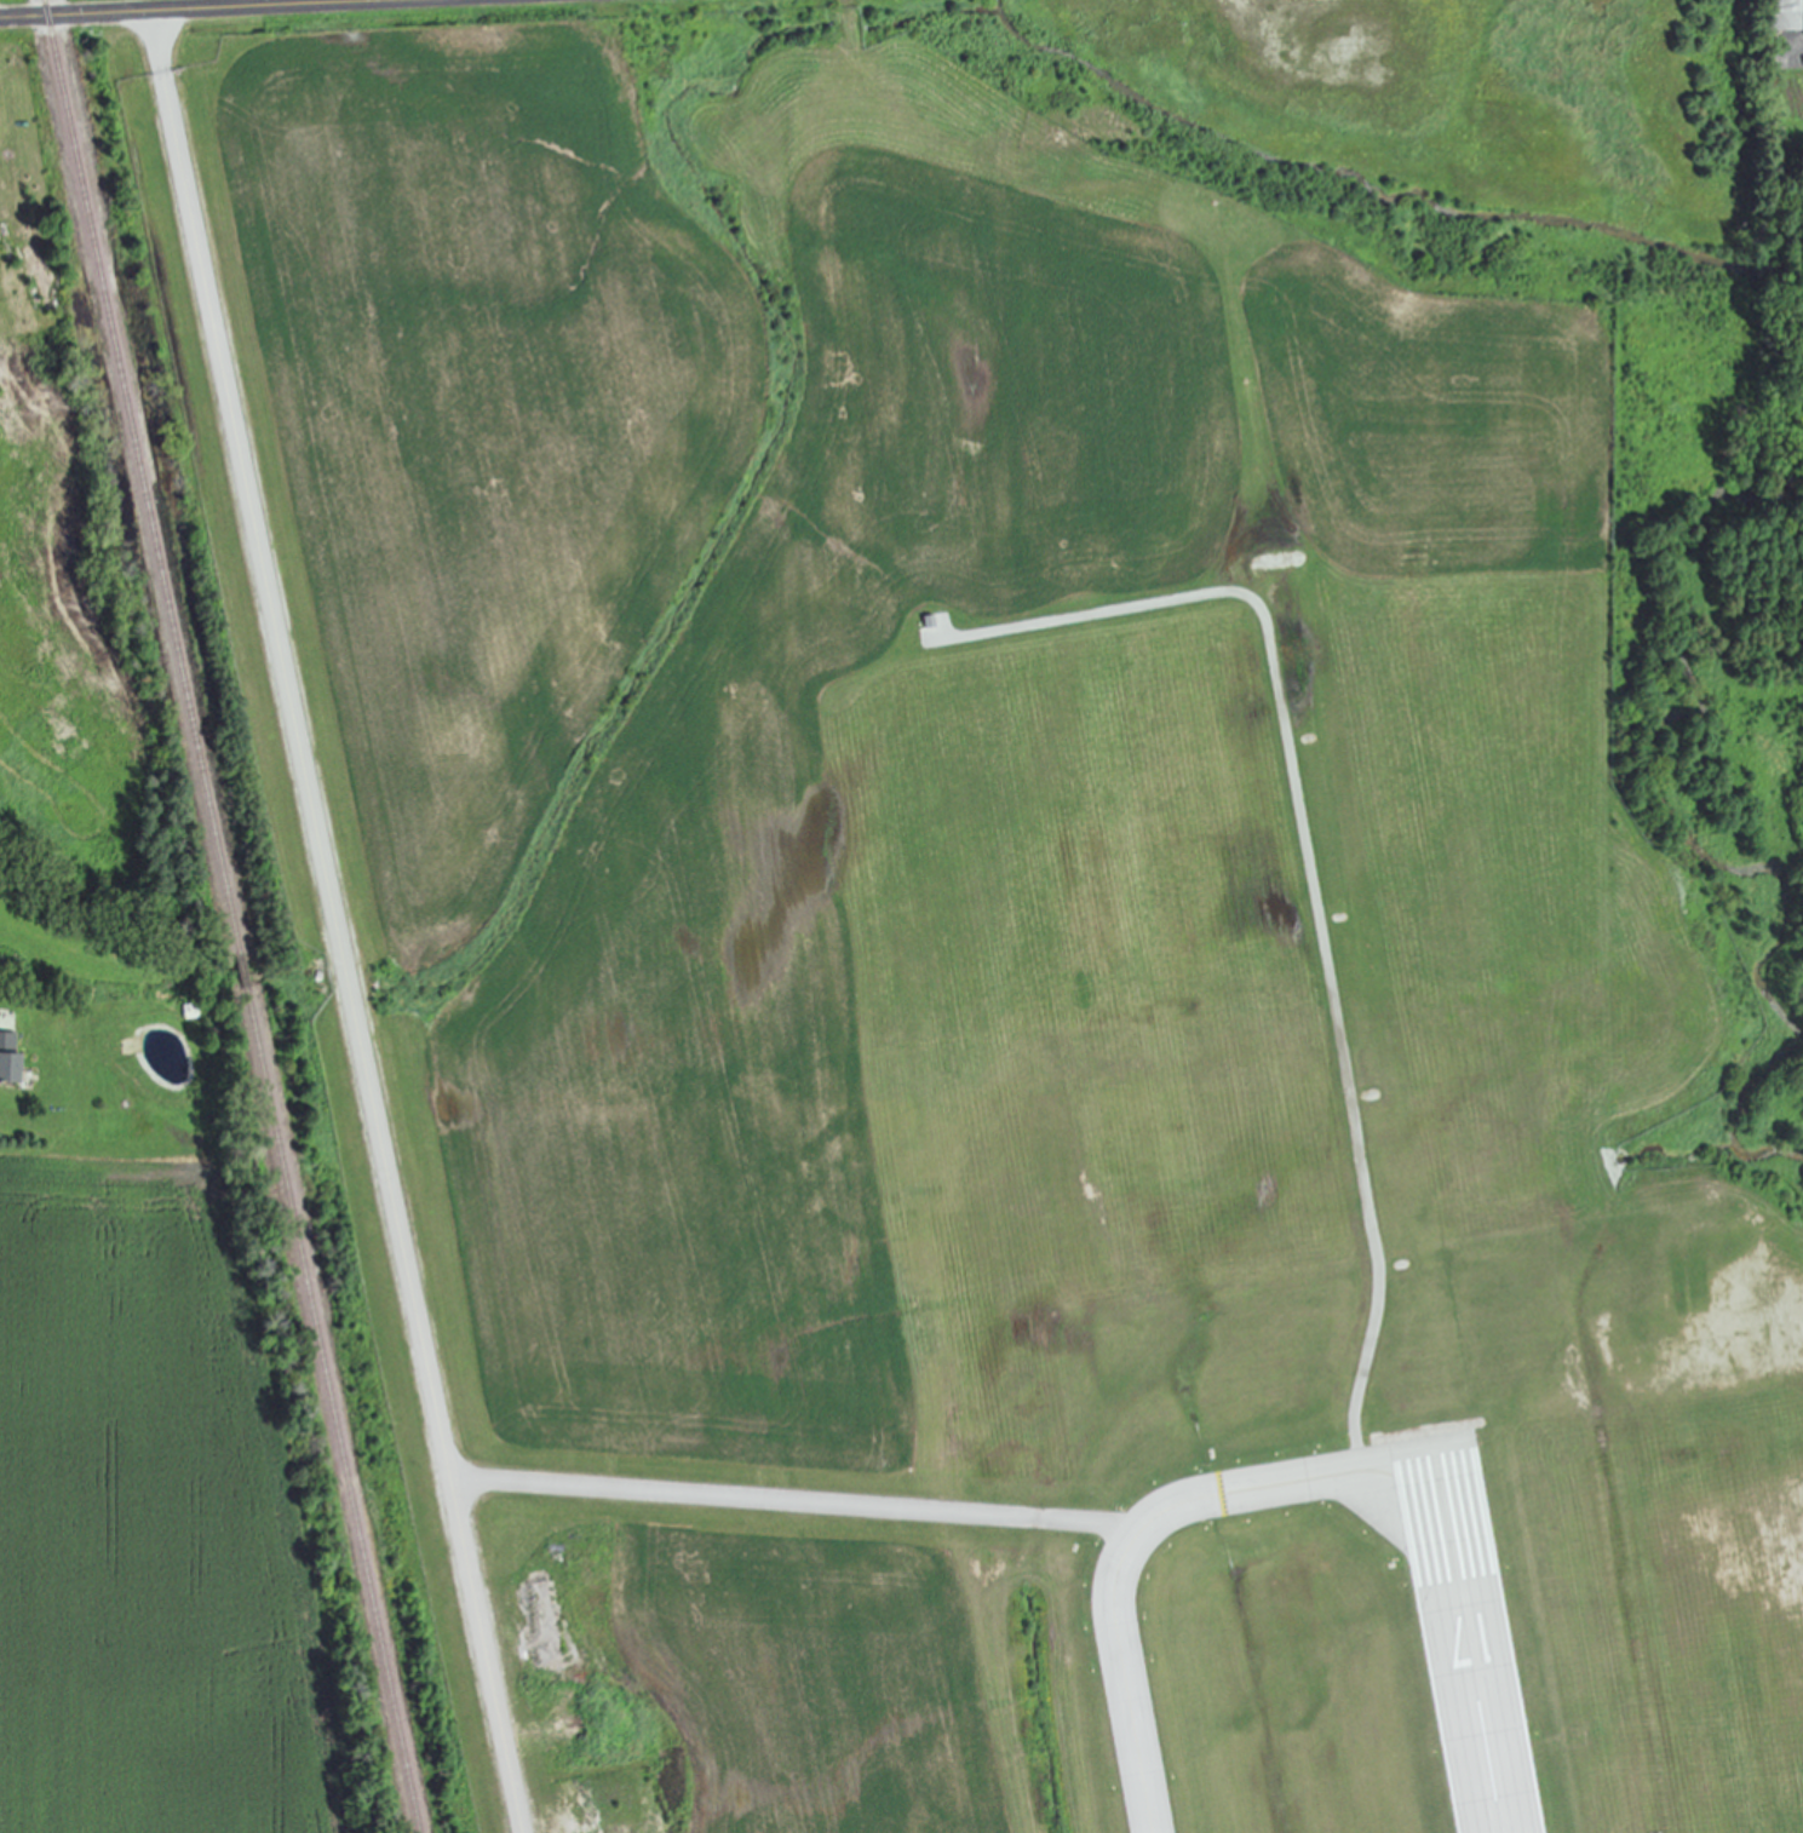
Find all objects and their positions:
road: (159, 8)
building: (1778, 15)
road: (157, 40)
road: (1311, 868)
airport: (1041, 895)
railway: (234, 916)
road: (344, 952)
building: (12, 1059)
road: (797, 1500)
airport taxiway: (1142, 1530)
airport runway: (1472, 1643)

